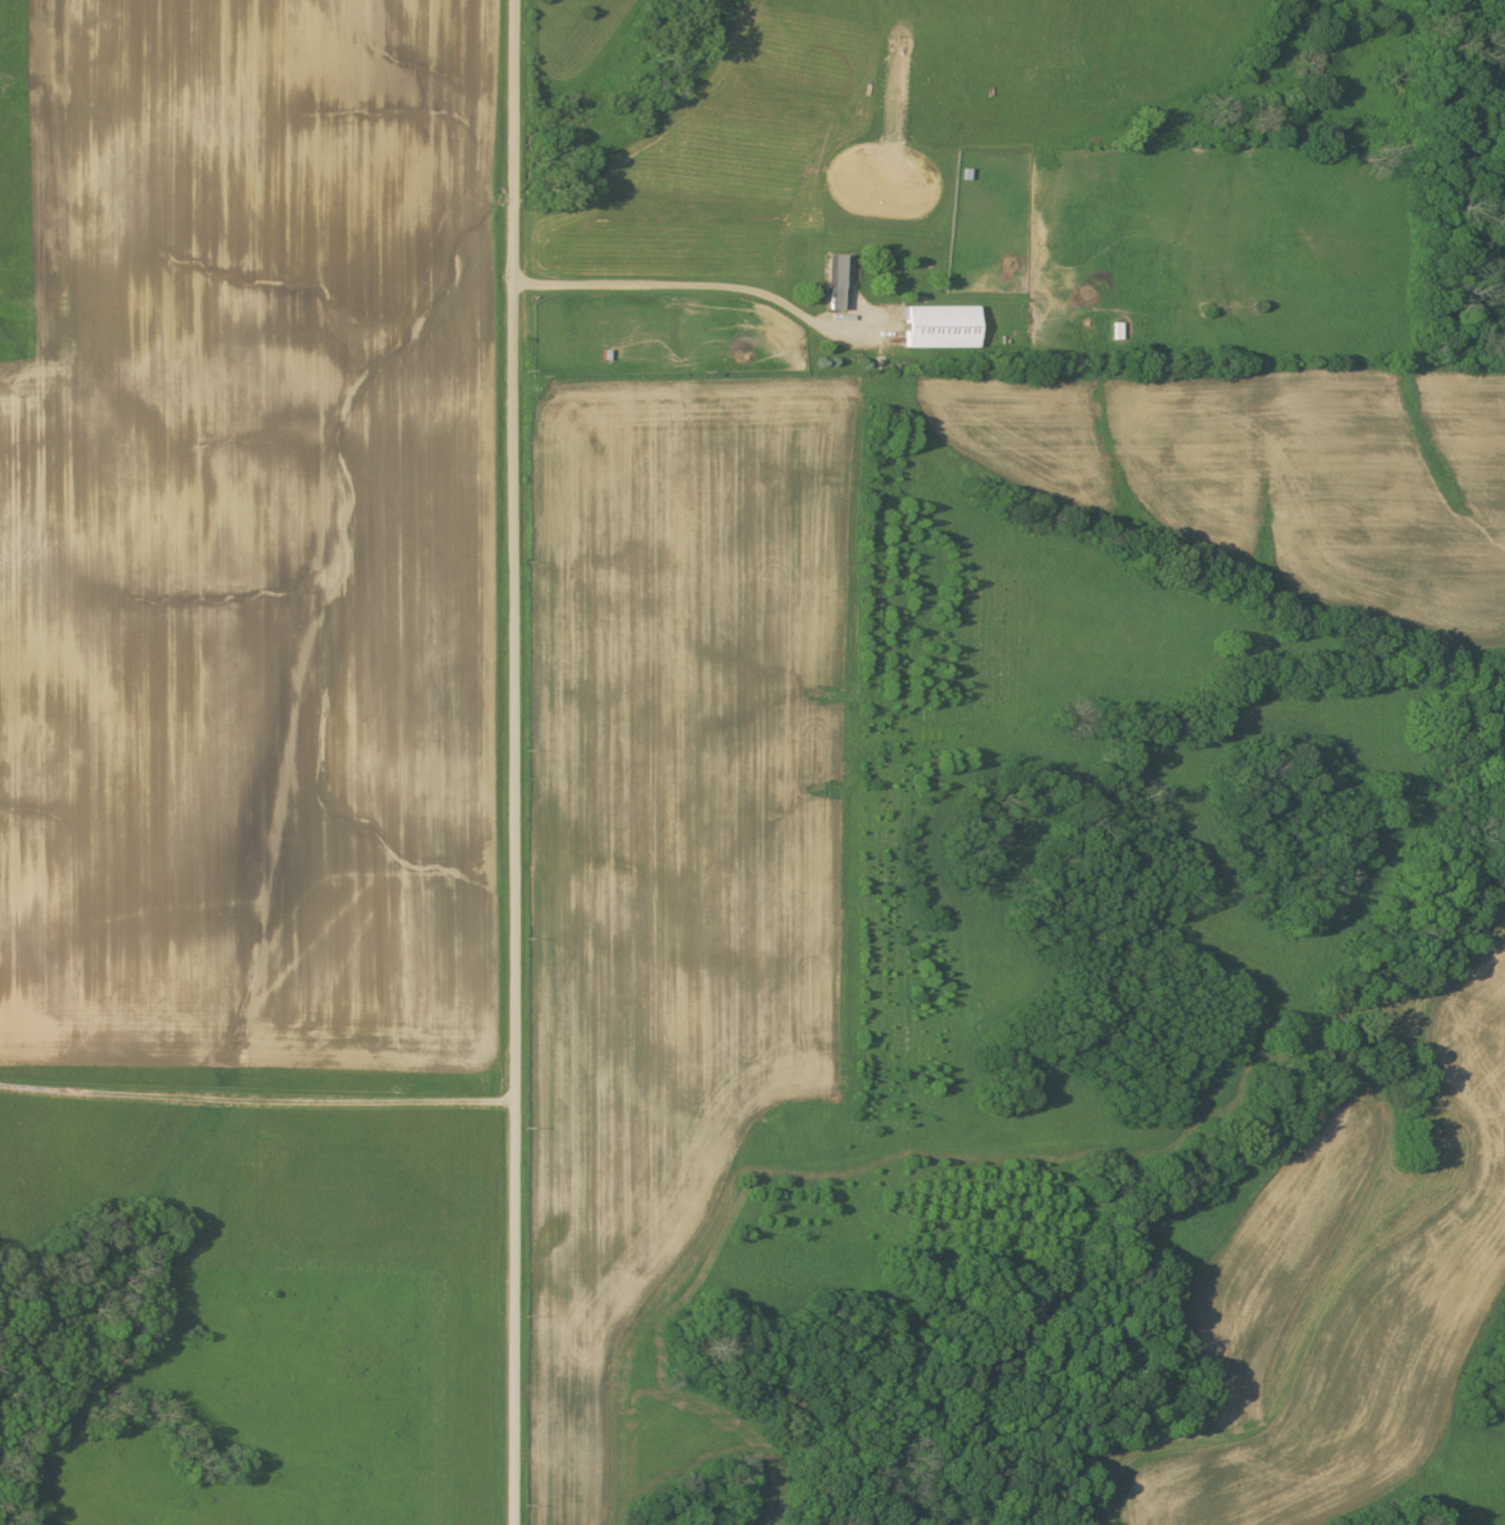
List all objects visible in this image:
building: (838, 282)
road: (693, 284)
building: (940, 327)
road: (508, 762)
road: (253, 1102)

